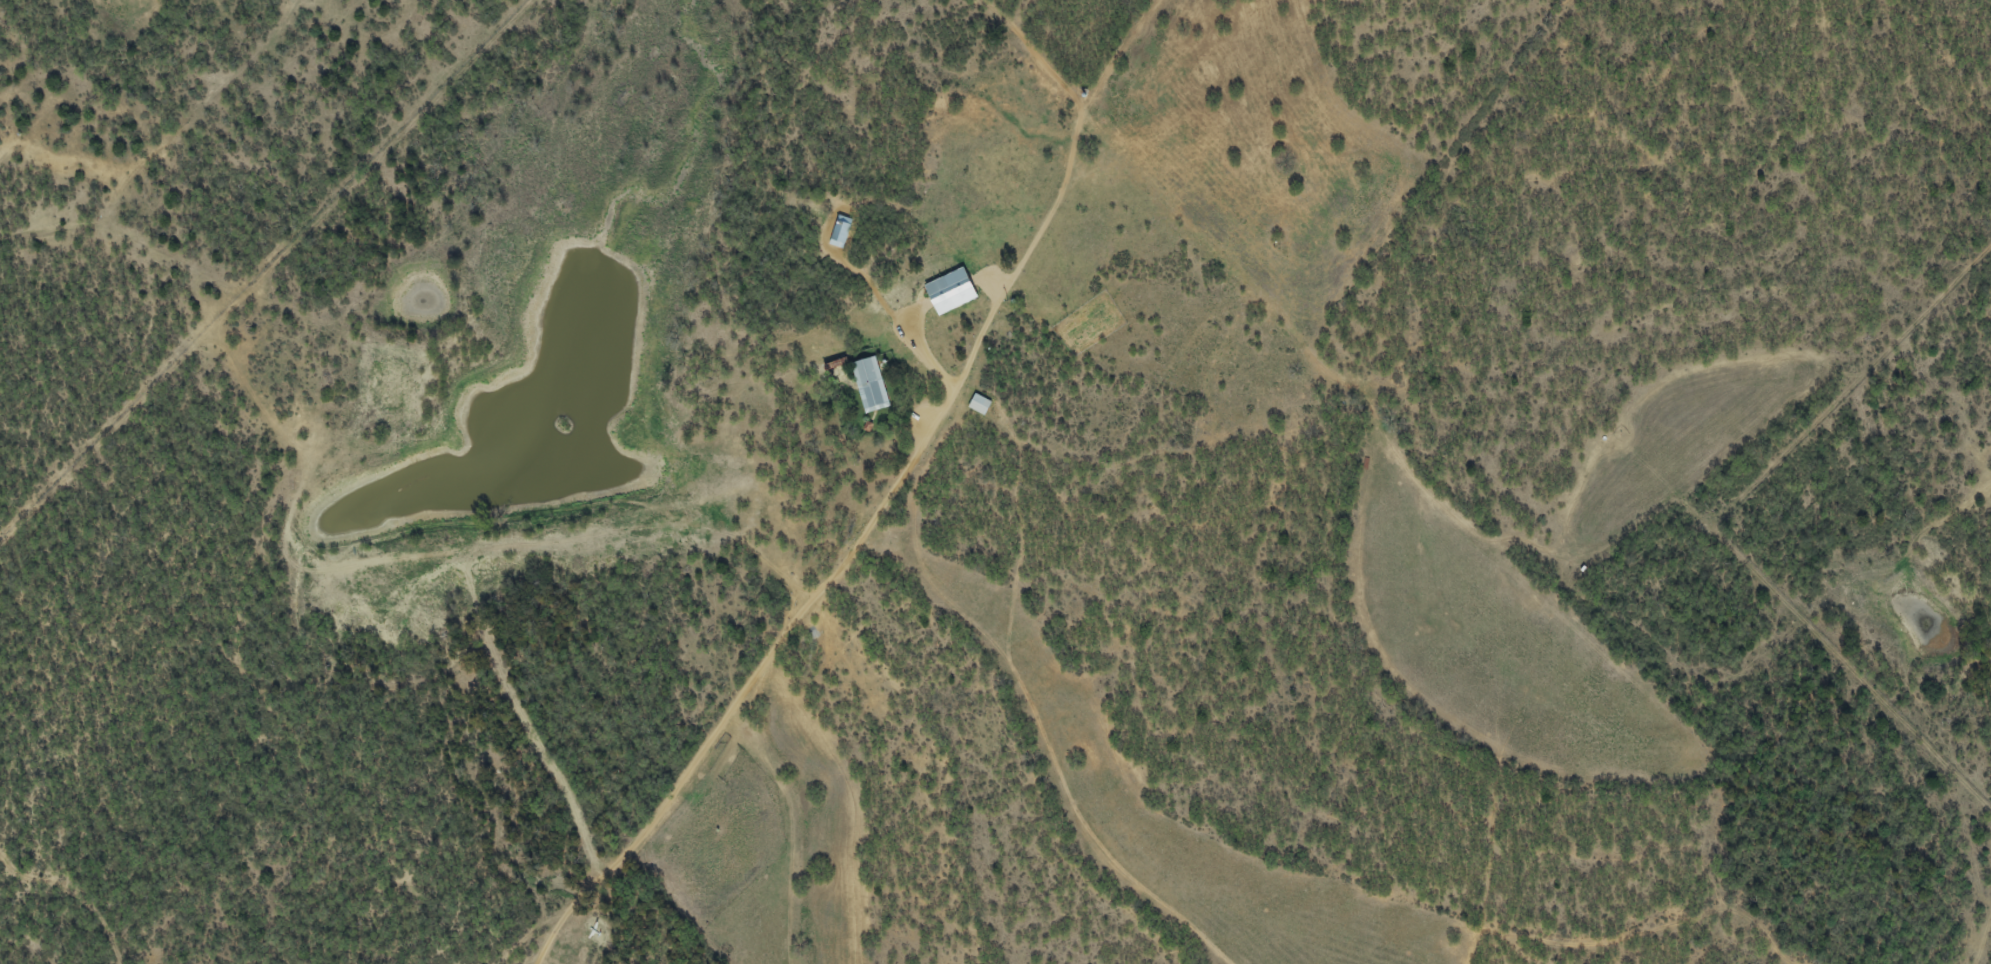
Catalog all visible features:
crop: (122, 13)
road: (1112, 56)
road: (1042, 64)
road: (190, 114)
road: (548, 231)
building: (870, 387)
building: (981, 405)
road: (417, 435)
road: (1169, 456)
road: (1648, 642)
road: (744, 693)
road: (1391, 701)
road: (1940, 757)
road: (786, 831)
road: (67, 897)
road: (1643, 933)
road: (526, 962)

